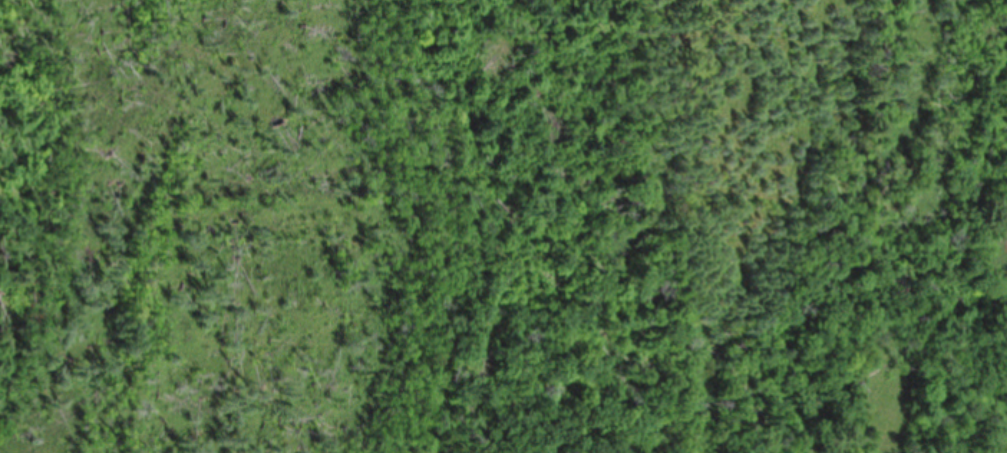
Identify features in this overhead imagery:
park: (503, 226)

